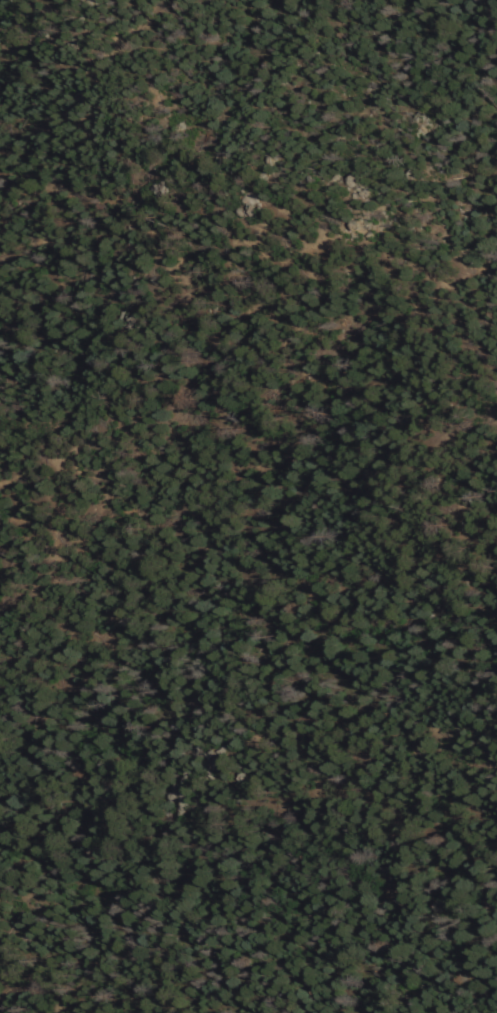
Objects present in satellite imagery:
road: (262, 236)

